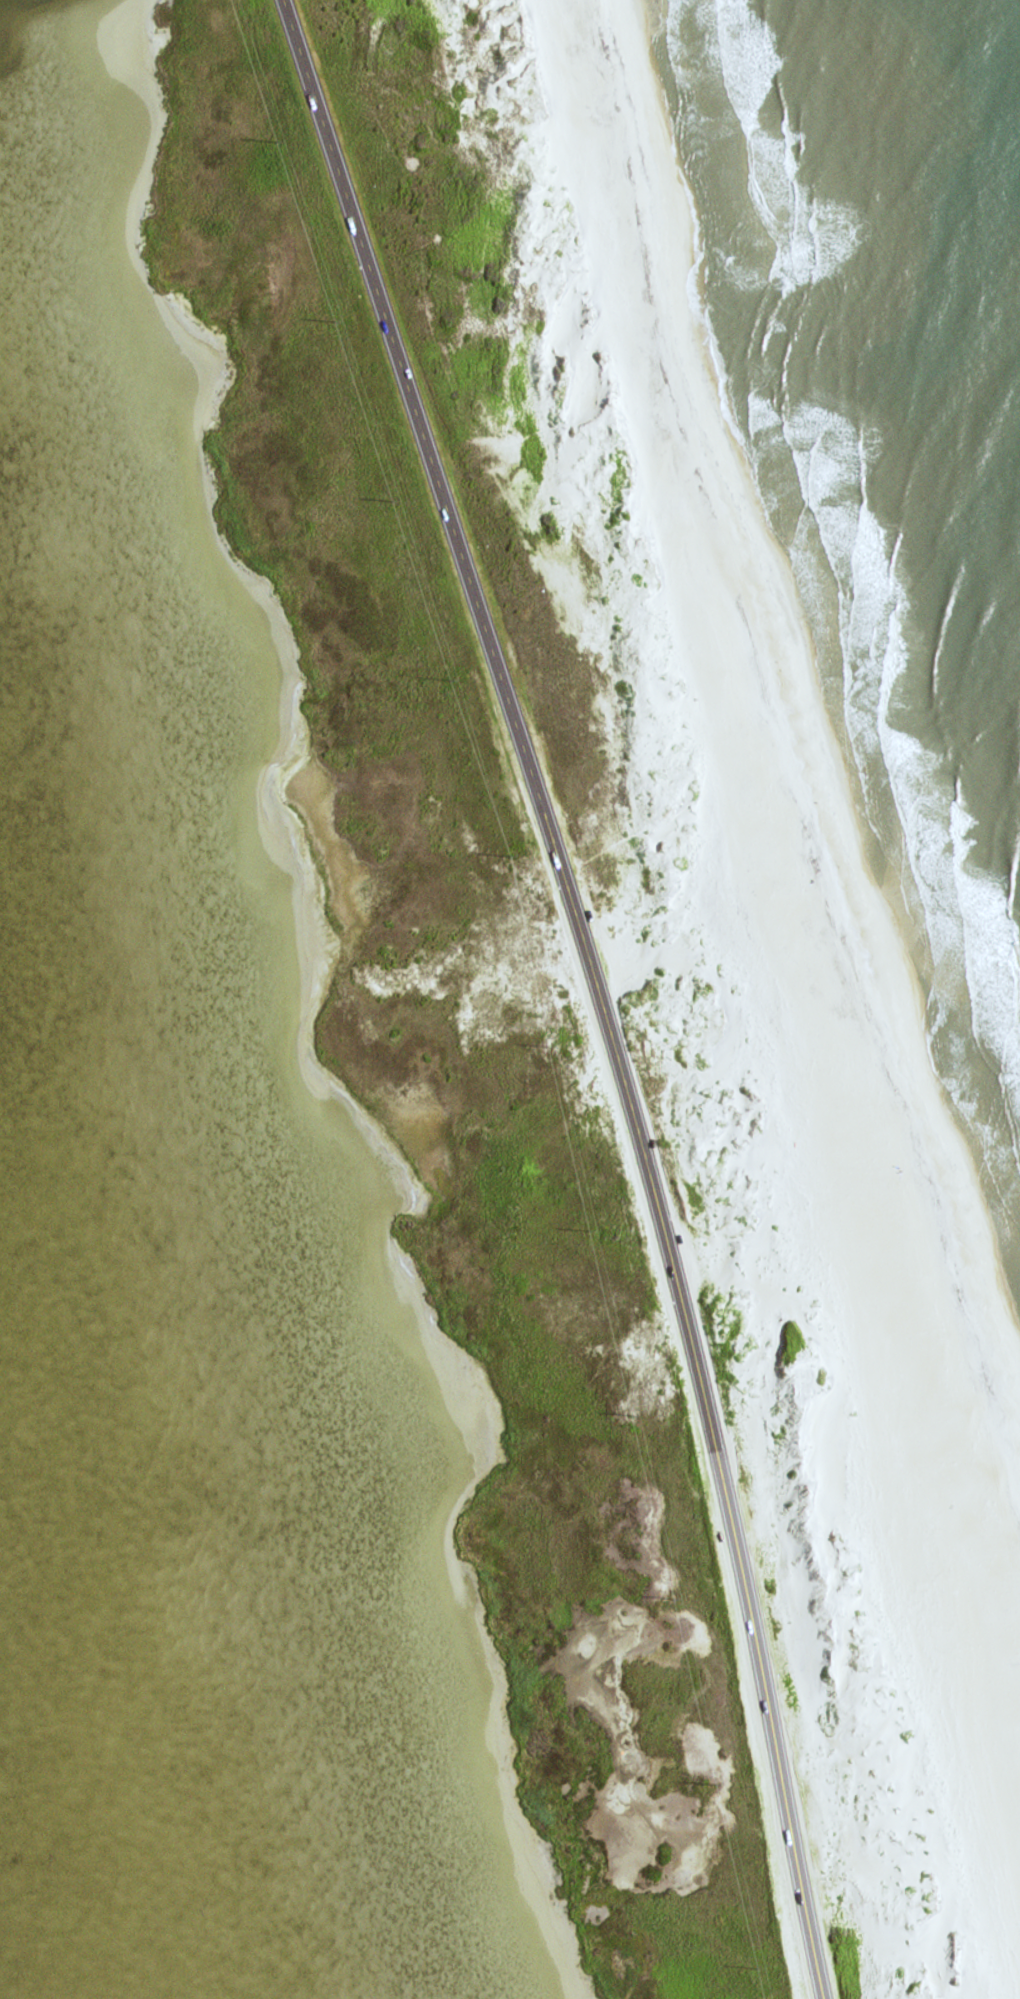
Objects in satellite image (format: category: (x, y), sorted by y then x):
power tower: (279, 141)
power tower: (335, 322)
power tower: (397, 502)
power tower: (451, 680)
power tower: (511, 858)
road: (821, 954)
road: (597, 987)
power tower: (548, 1041)
power tower: (591, 1230)
power tower: (634, 1413)
power tower: (673, 1595)
power tower: (716, 1786)
power tower: (758, 1965)

